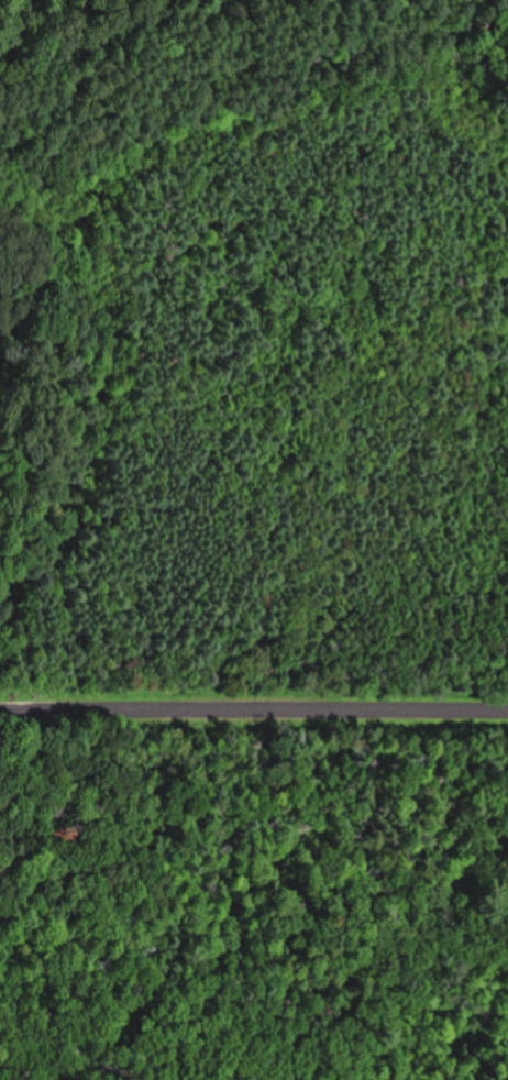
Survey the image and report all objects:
road: (254, 709)

